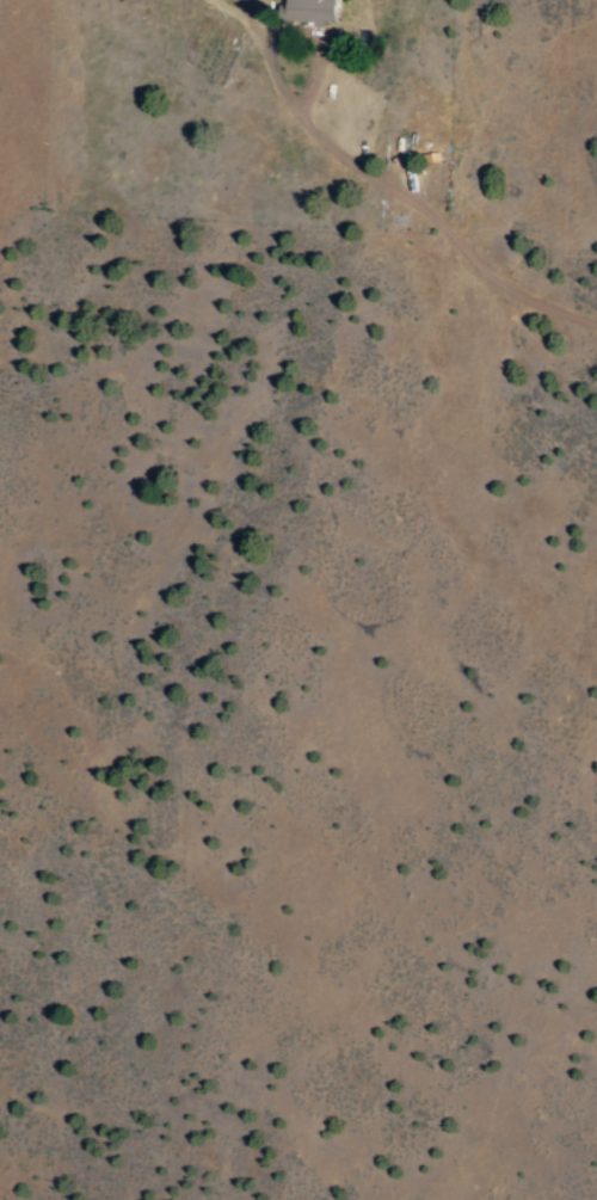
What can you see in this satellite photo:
building: (307, 10)
road: (395, 190)

